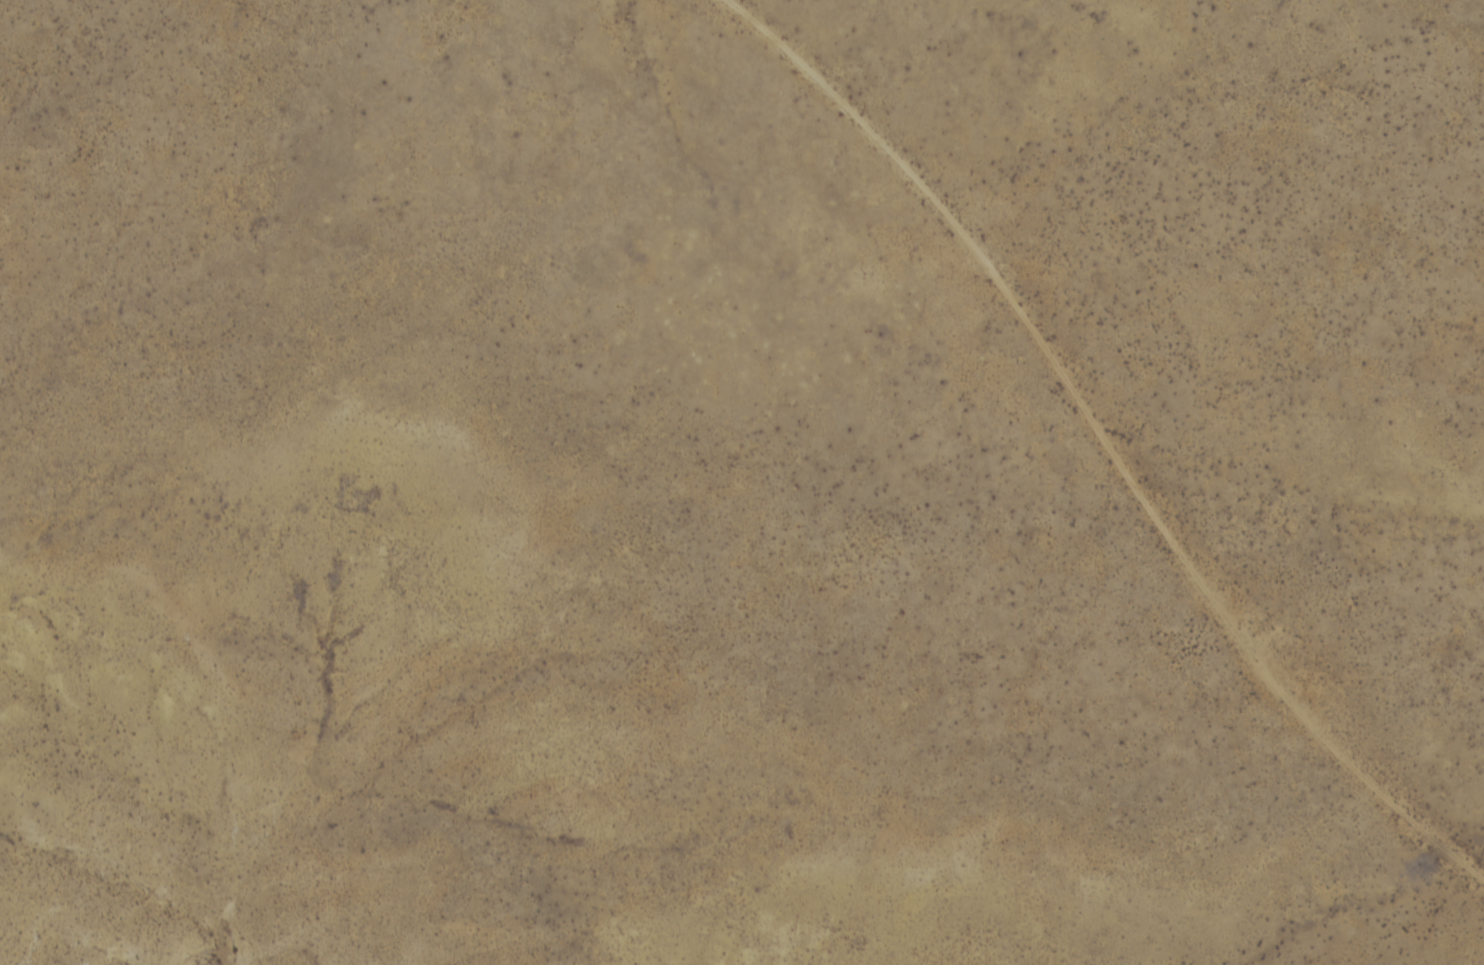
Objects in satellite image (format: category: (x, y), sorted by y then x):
road: (1100, 441)

